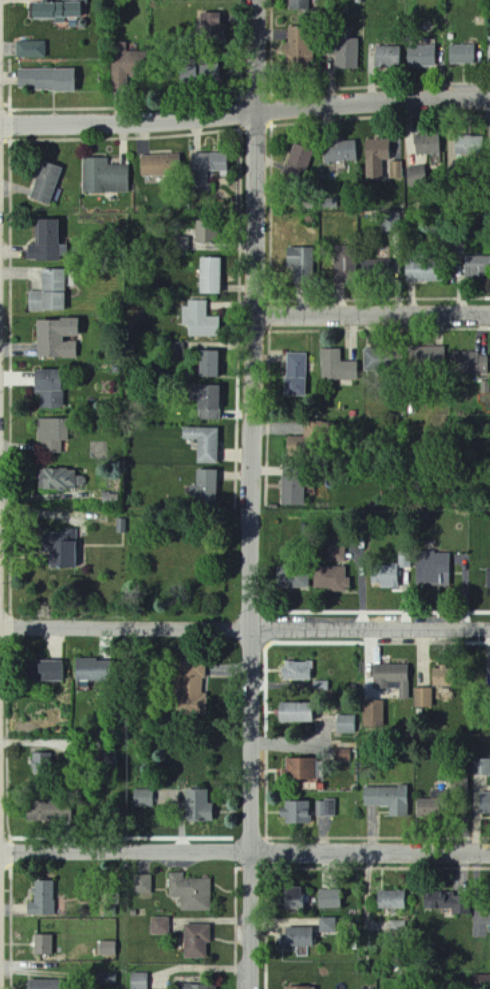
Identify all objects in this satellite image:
building: (298, 5)
building: (57, 11)
building: (210, 26)
building: (298, 46)
building: (32, 50)
building: (346, 54)
building: (463, 55)
building: (421, 57)
building: (388, 58)
building: (125, 66)
building: (209, 73)
building: (186, 75)
building: (46, 81)
road: (245, 116)
building: (428, 145)
building: (469, 146)
building: (340, 153)
building: (377, 158)
building: (298, 163)
building: (160, 166)
building: (206, 167)
building: (396, 171)
building: (416, 175)
building: (105, 178)
building: (46, 183)
building: (204, 232)
building: (45, 242)
building: (482, 260)
building: (300, 261)
building: (343, 262)
building: (383, 268)
building: (425, 271)
building: (210, 275)
building: (49, 292)
road: (373, 317)
building: (200, 319)
building: (55, 338)
building: (432, 357)
building: (207, 363)
building: (470, 364)
building: (337, 366)
building: (295, 374)
building: (49, 387)
building: (207, 402)
building: (52, 435)
building: (203, 443)
building: (294, 445)
building: (60, 479)
building: (206, 488)
building: (292, 492)
road: (253, 494)
building: (60, 548)
building: (433, 570)
building: (386, 574)
building: (331, 578)
building: (488, 578)
building: (293, 579)
road: (244, 626)
building: (88, 670)
building: (47, 671)
building: (297, 671)
building: (439, 677)
building: (393, 679)
building: (192, 690)
building: (424, 698)
building: (293, 712)
building: (373, 715)
building: (346, 725)
building: (481, 767)
building: (300, 769)
building: (143, 798)
building: (387, 799)
building: (484, 803)
building: (198, 806)
building: (328, 808)
building: (424, 808)
building: (48, 811)
building: (296, 812)
road: (245, 850)
building: (143, 884)
building: (190, 892)
building: (293, 898)
building: (329, 899)
building: (42, 900)
building: (391, 900)
building: (444, 902)
building: (487, 911)
building: (160, 926)
building: (328, 926)
building: (196, 941)
building: (40, 945)
building: (107, 949)
building: (139, 981)
building: (41, 984)
building: (196, 987)
building: (298, 988)

